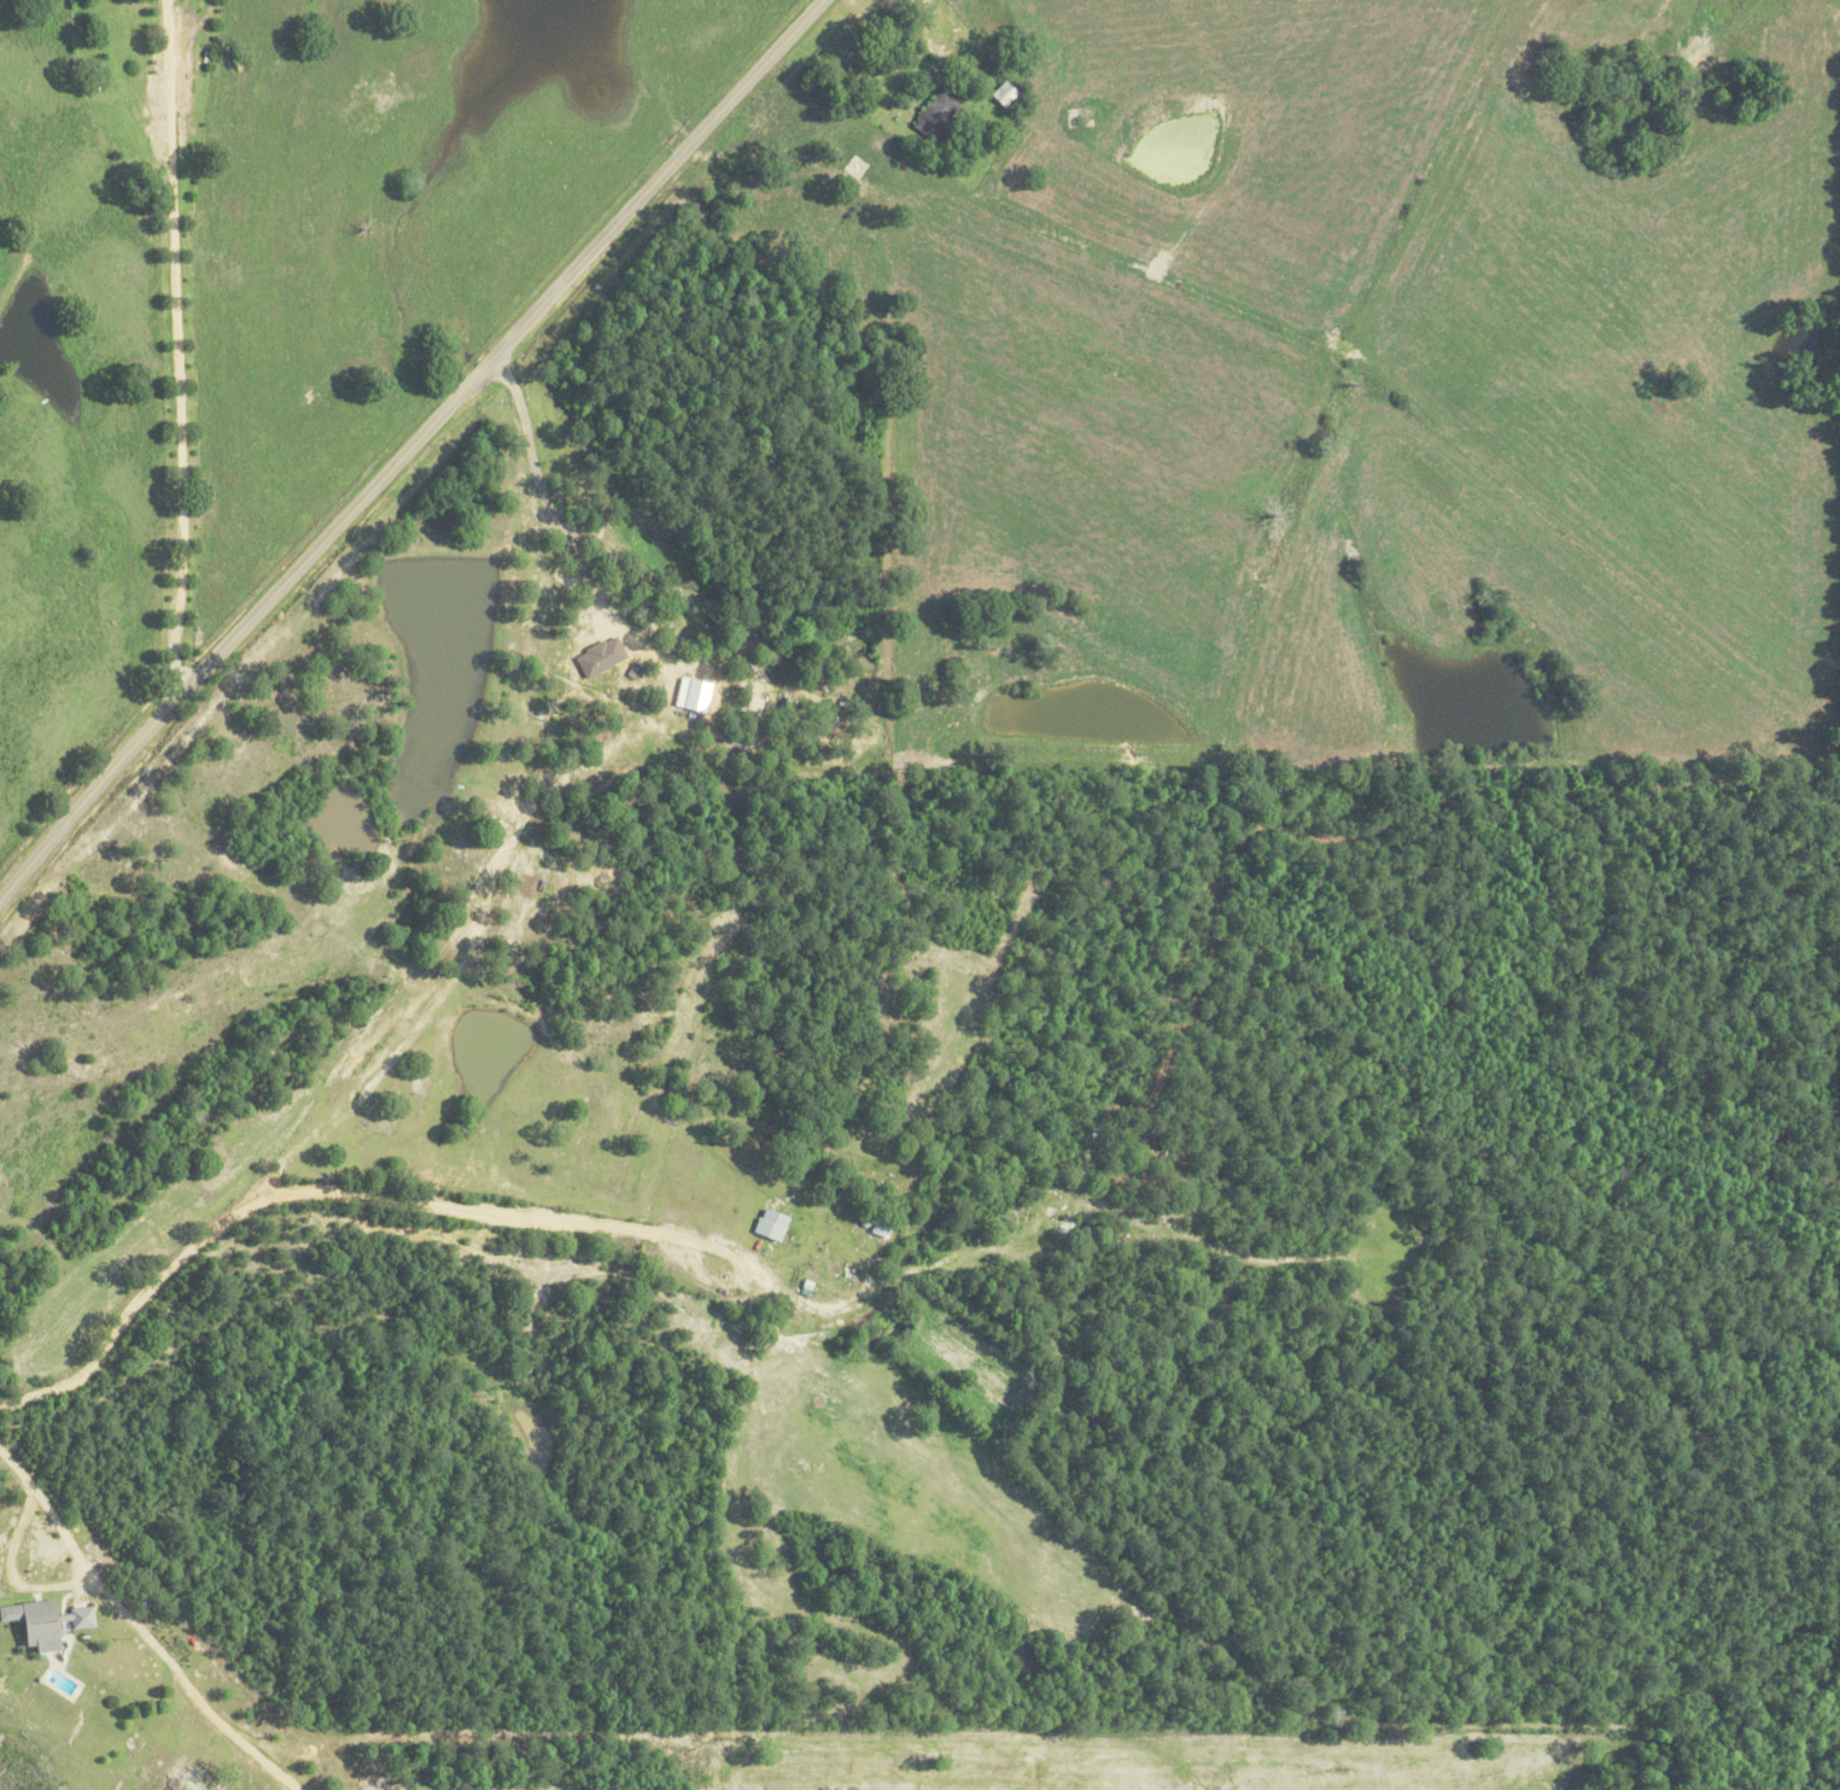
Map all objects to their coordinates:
building: (934, 113)
road: (410, 446)
road: (568, 546)
road: (340, 1193)
building: (769, 1224)
building: (77, 1616)
building: (34, 1624)
road: (139, 1626)

